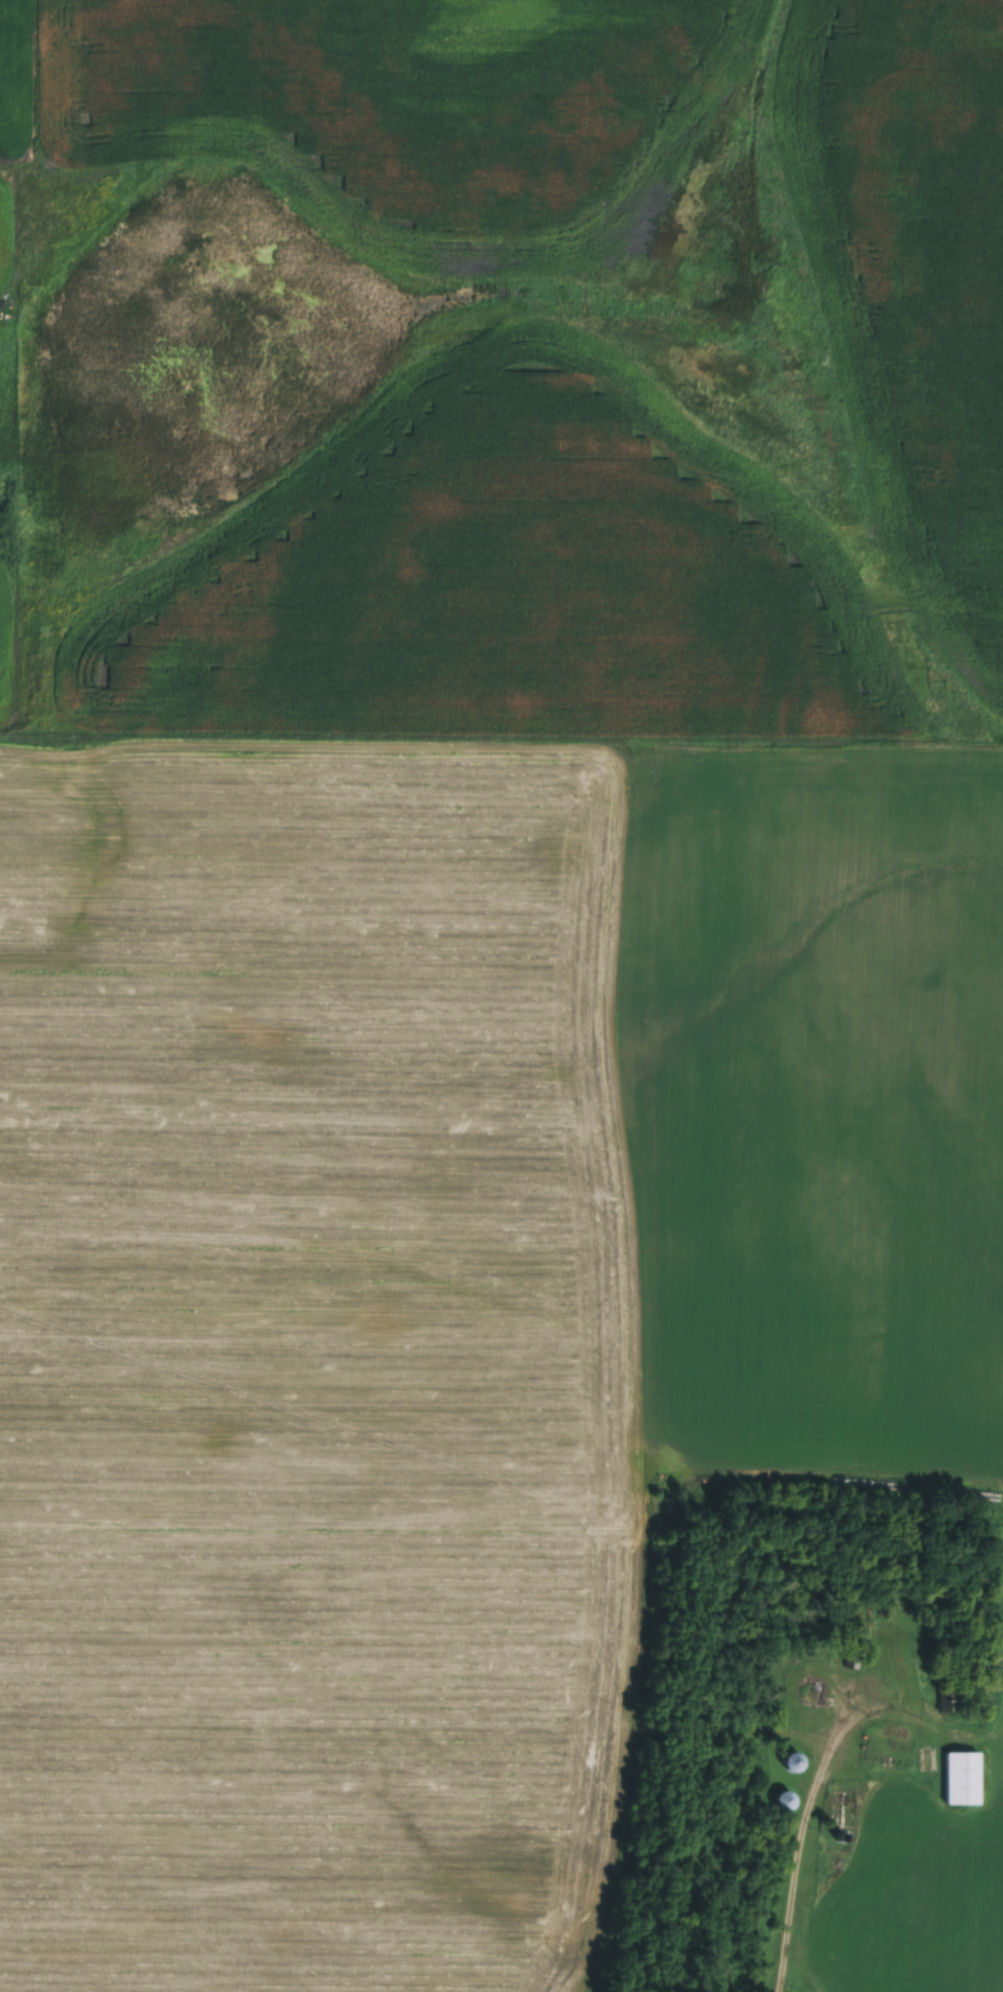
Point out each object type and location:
building: (790, 1762)
building: (960, 1778)
building: (782, 1801)
building: (844, 1808)
road: (798, 1837)

